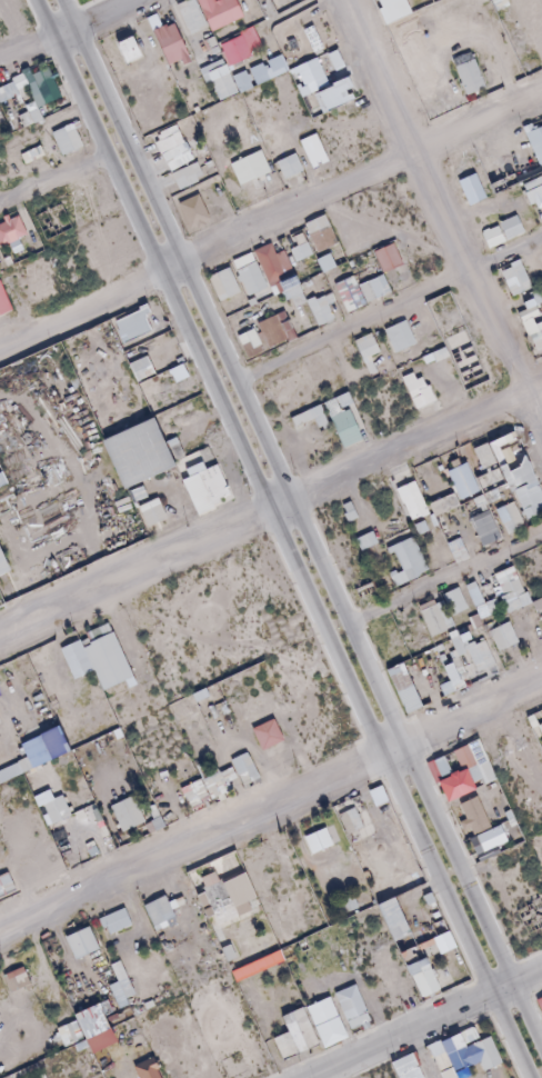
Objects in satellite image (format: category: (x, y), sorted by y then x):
road: (66, 30)
road: (440, 217)
road: (270, 219)
road: (271, 509)

